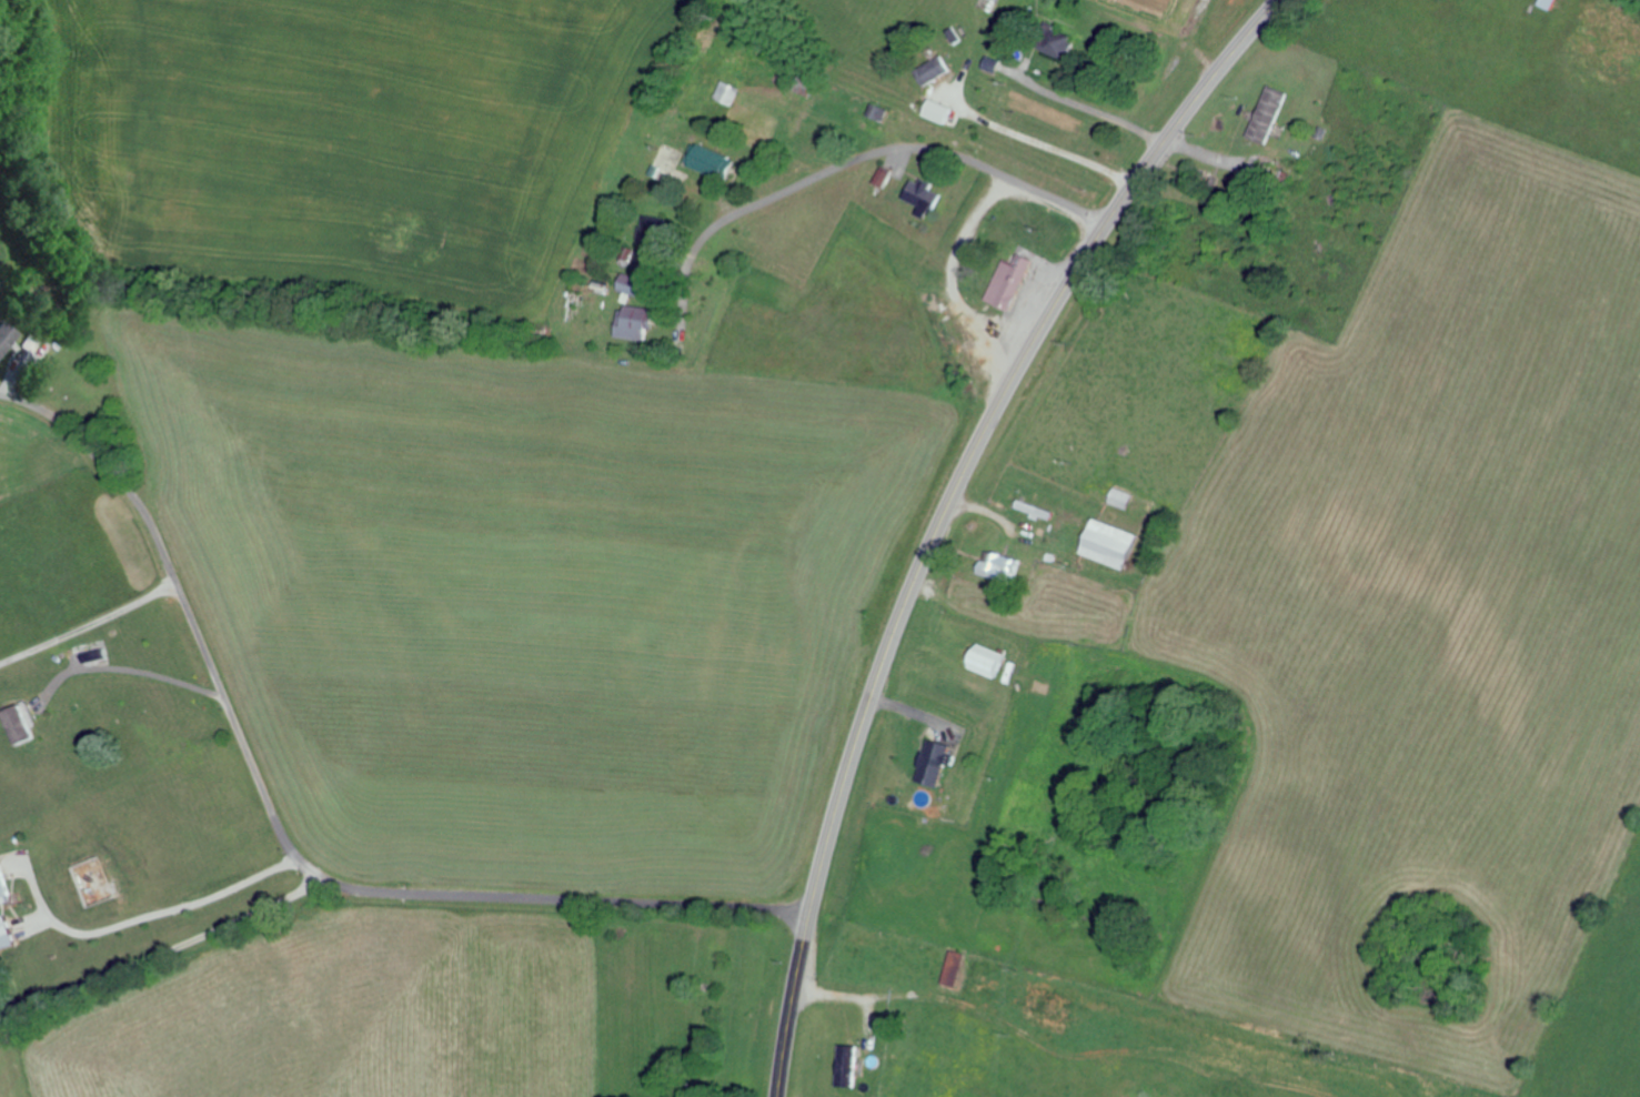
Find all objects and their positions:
building: (1546, 3)
building: (1052, 42)
building: (927, 69)
building: (732, 90)
building: (934, 110)
building: (1264, 113)
road: (857, 159)
building: (721, 161)
building: (879, 175)
building: (918, 195)
building: (653, 260)
building: (1005, 282)
building: (638, 283)
building: (642, 322)
building: (9, 339)
building: (1035, 510)
road: (944, 511)
building: (1106, 543)
building: (999, 566)
road: (89, 624)
building: (983, 660)
building: (23, 724)
building: (933, 761)
road: (203, 817)
road: (281, 841)
building: (6, 880)
building: (8, 930)
road: (161, 953)
building: (962, 966)
building: (851, 1064)

